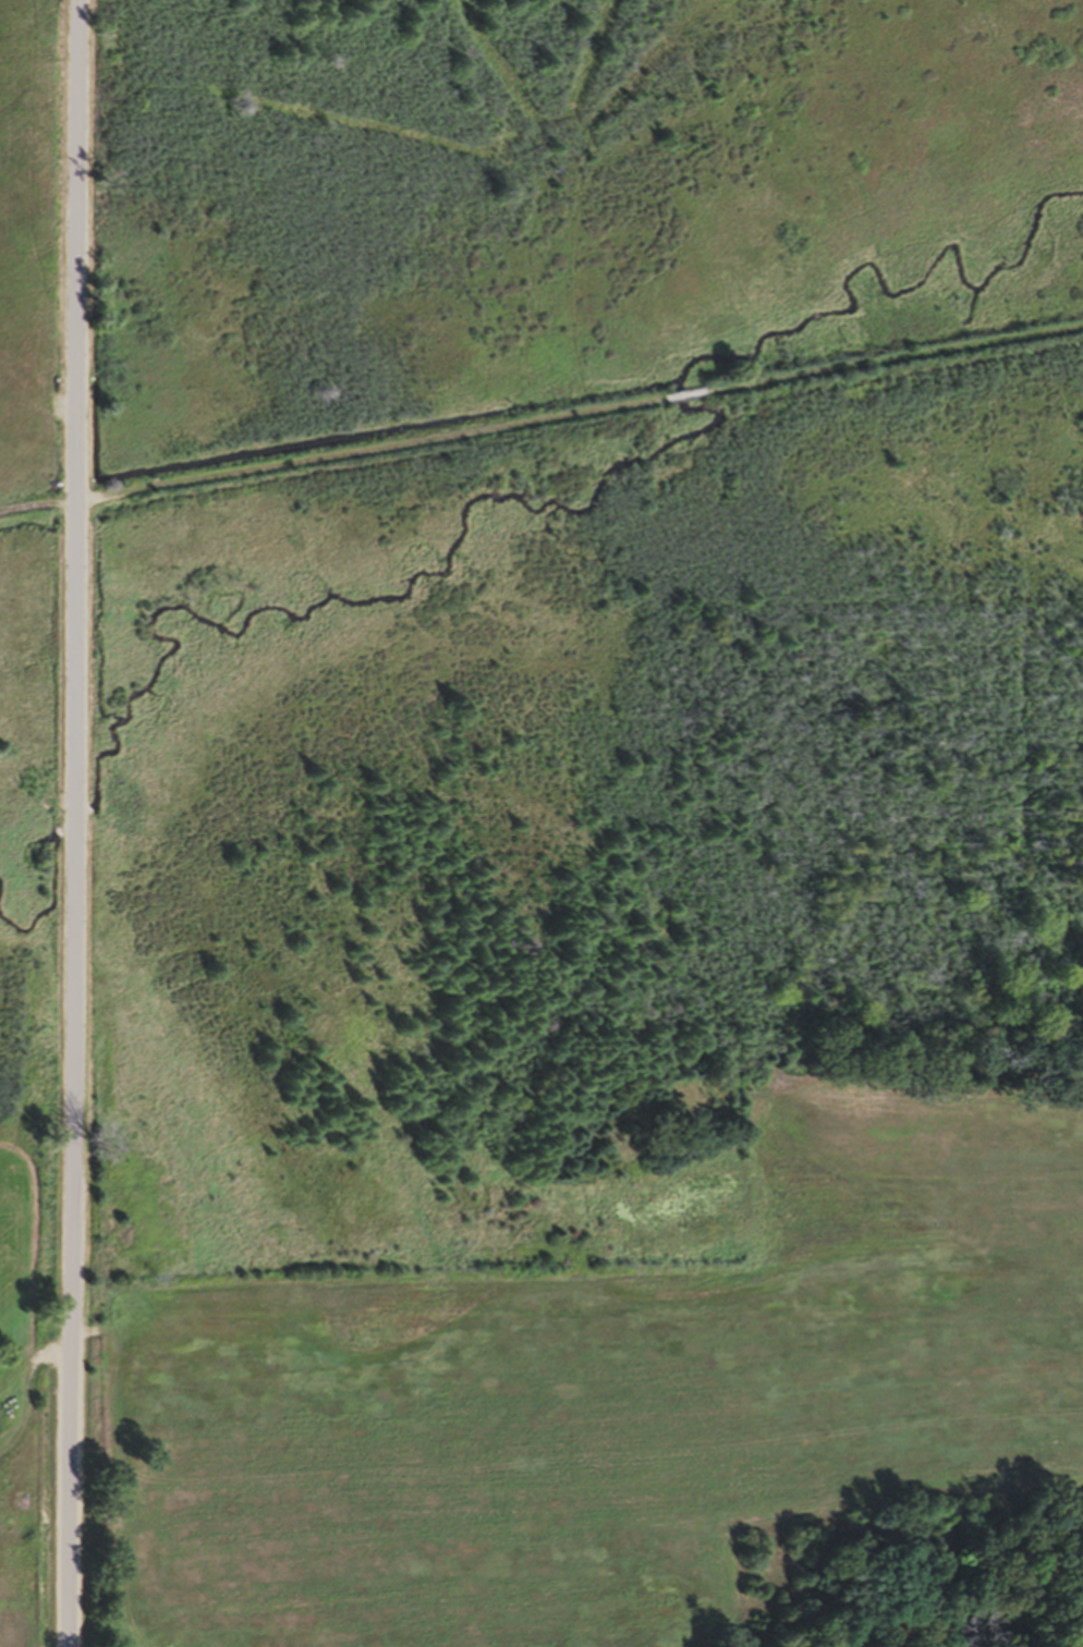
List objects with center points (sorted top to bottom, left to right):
road: (76, 823)

